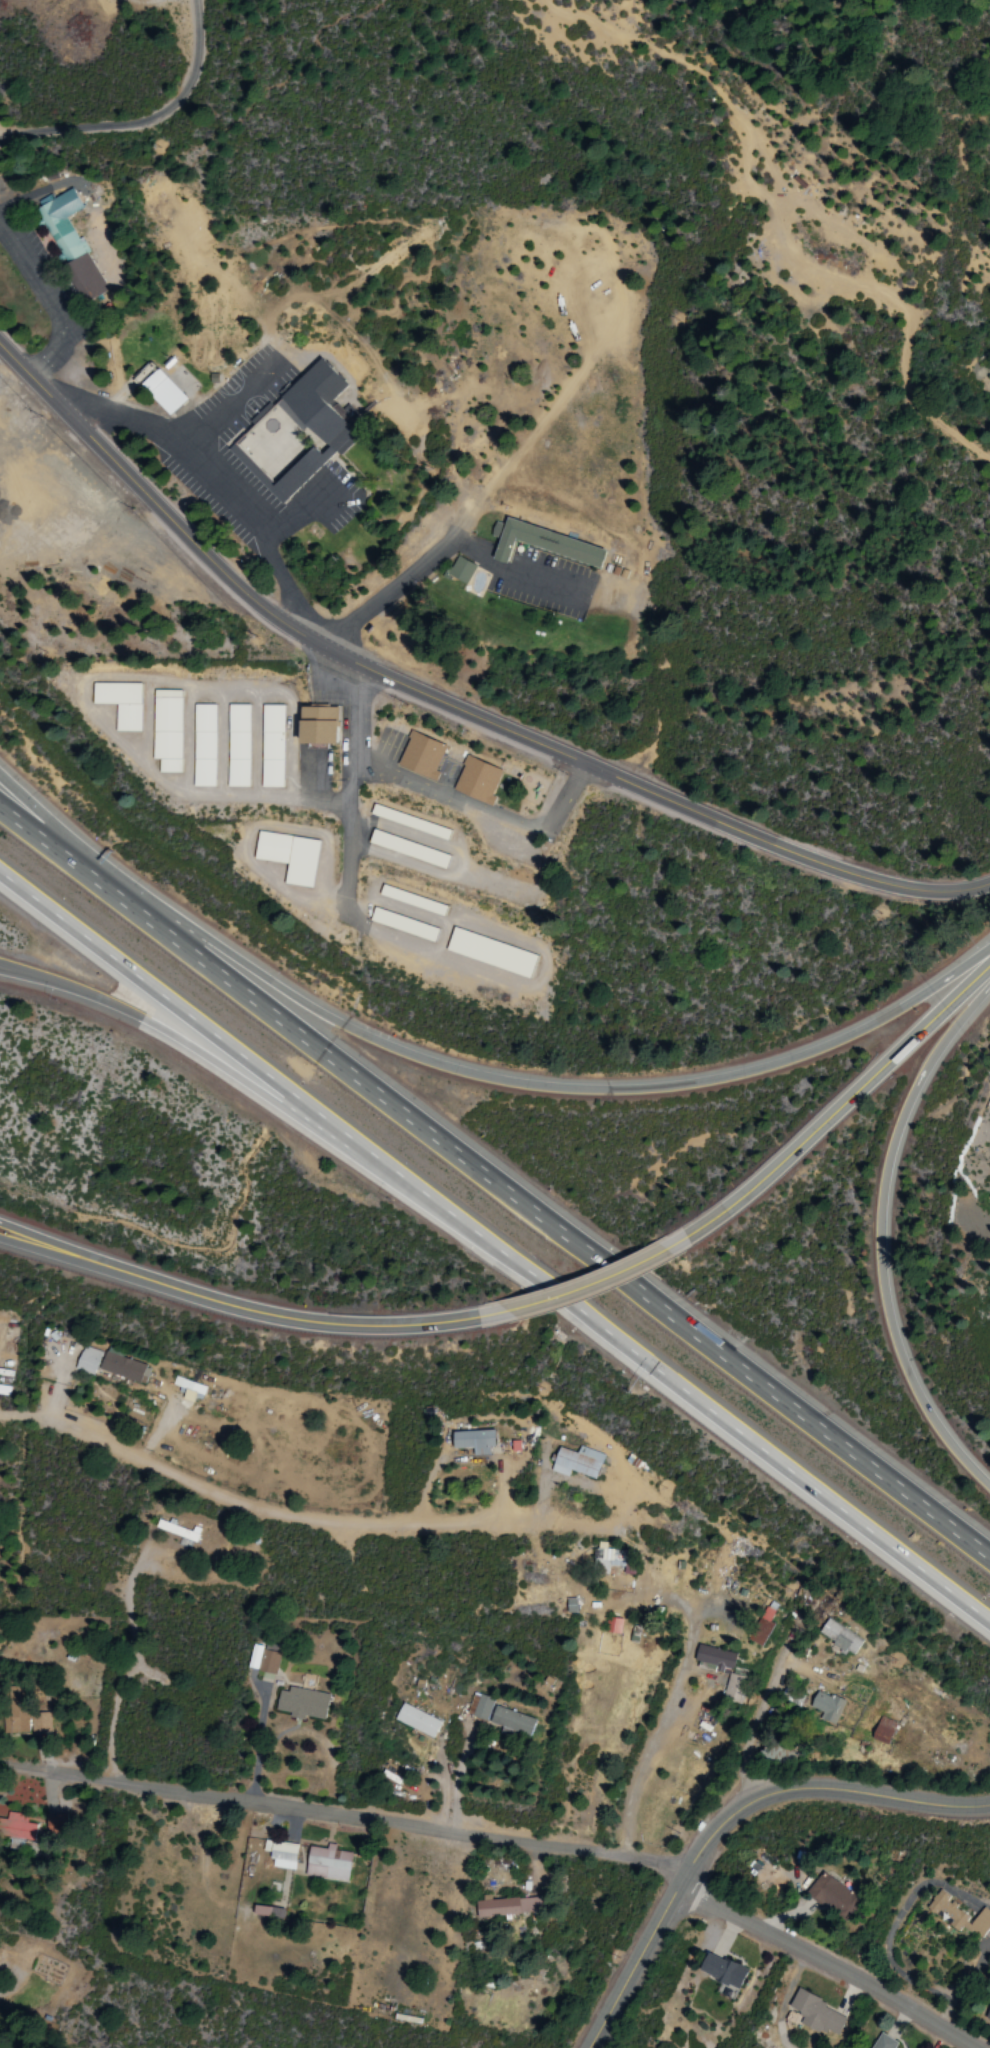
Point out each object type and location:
building: (70, 244)
building: (166, 386)
building: (295, 433)
building: (547, 542)
road: (405, 575)
building: (471, 575)
road: (539, 580)
parking lot: (543, 580)
building: (120, 703)
road: (447, 703)
building: (317, 724)
building: (167, 730)
building: (204, 746)
building: (238, 746)
building: (272, 746)
building: (421, 756)
building: (477, 781)
road: (42, 820)
road: (37, 839)
building: (408, 849)
building: (289, 856)
building: (490, 953)
road: (26, 973)
road: (221, 1033)
road: (225, 1066)
road: (595, 1086)
road: (833, 1120)
road: (534, 1207)
road: (889, 1235)
road: (137, 1268)
road: (136, 1280)
road: (589, 1290)
road: (392, 1326)
building: (87, 1360)
building: (123, 1368)
building: (189, 1388)
road: (713, 1408)
building: (474, 1441)
building: (577, 1462)
building: (176, 1530)
building: (611, 1559)
building: (762, 1627)
building: (840, 1638)
building: (715, 1658)
building: (263, 1659)
building: (734, 1689)
building: (302, 1703)
building: (827, 1707)
road: (670, 1709)
building: (417, 1720)
building: (25, 1721)
road: (453, 1721)
building: (511, 1722)
road: (758, 1730)
building: (883, 1731)
building: (1, 1812)
road: (347, 1814)
road: (731, 1818)
building: (17, 1827)
building: (281, 1854)
building: (328, 1863)
building: (832, 1895)
building: (506, 1907)
building: (261, 1910)
building: (959, 1915)
road: (835, 1962)
building: (722, 1970)
building: (818, 2014)
building: (988, 2015)
building: (883, 2042)

